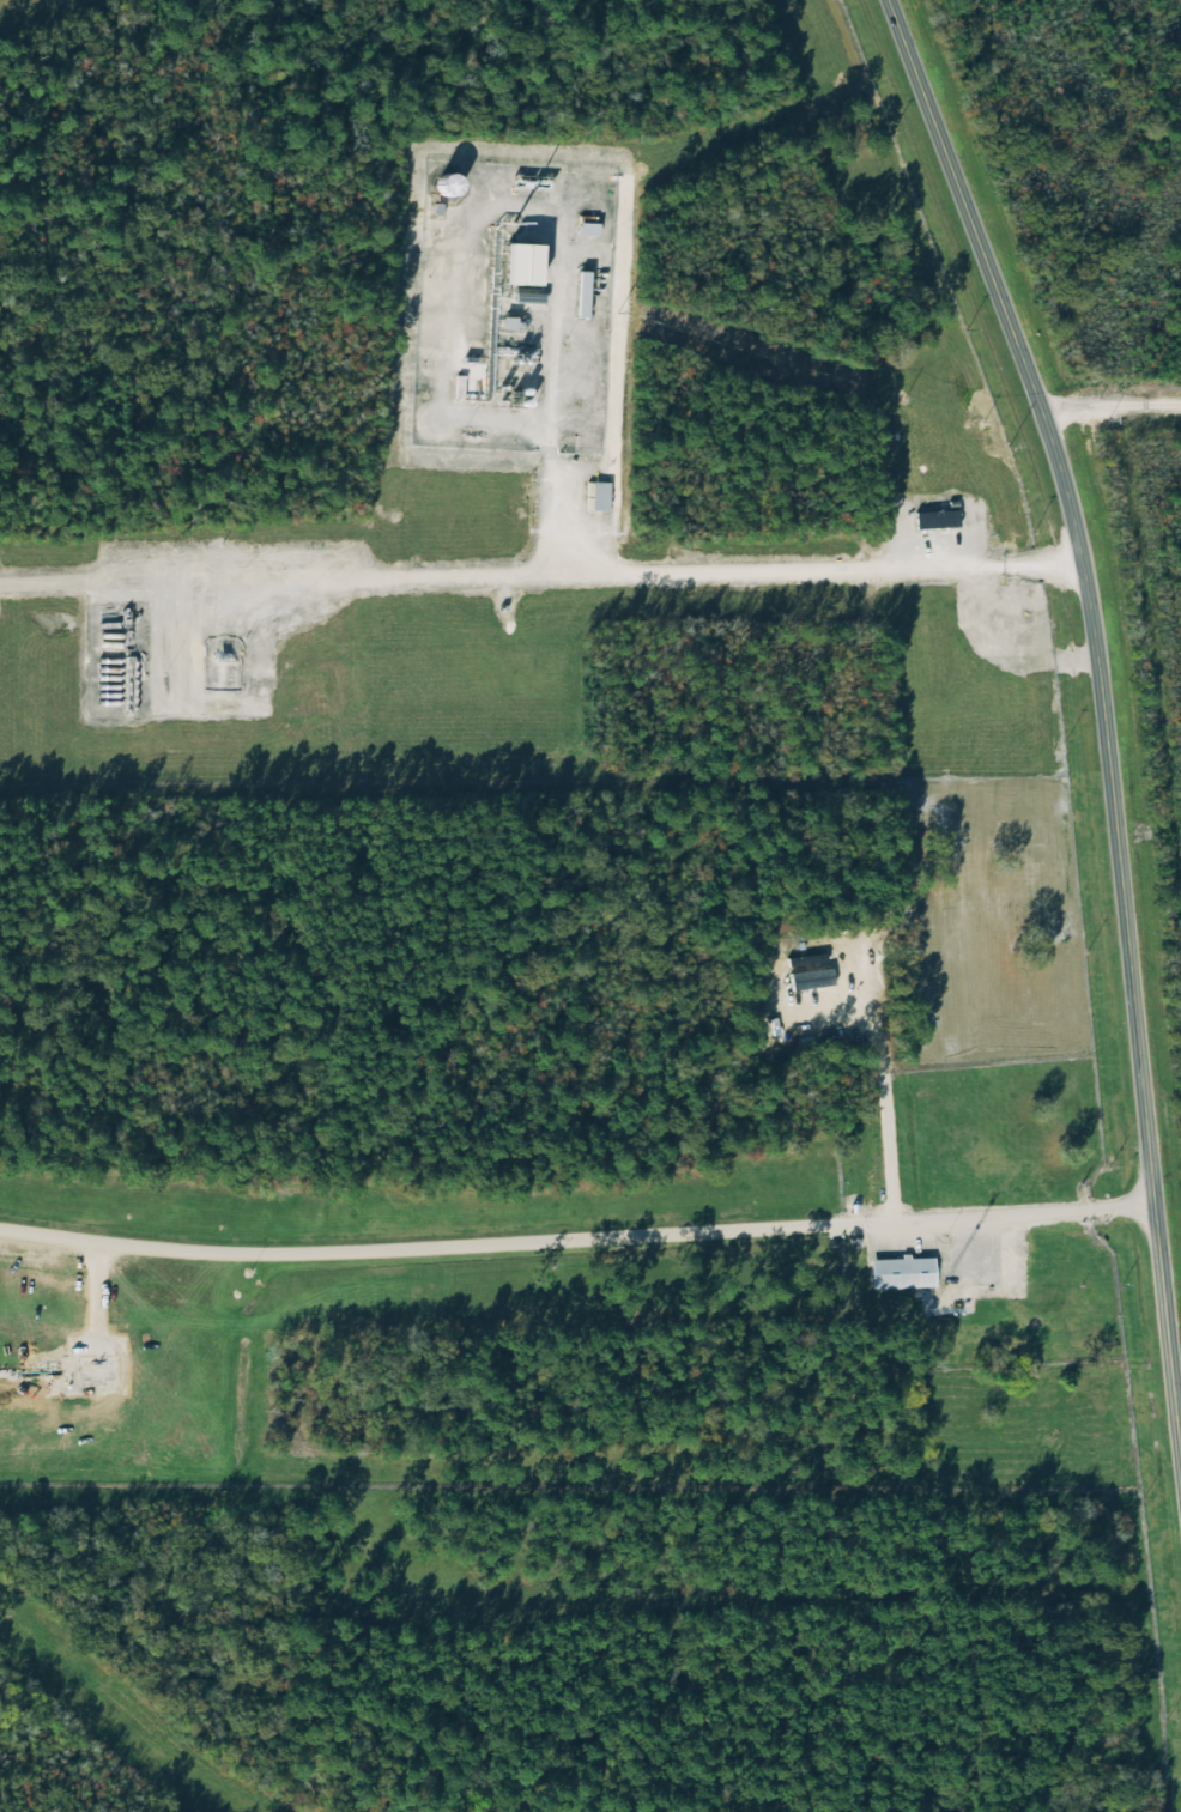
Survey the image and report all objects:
building: (520, 263)
building: (598, 495)
building: (937, 519)
road: (939, 533)
road: (540, 572)
road: (1103, 714)
road: (576, 1234)
building: (901, 1272)

